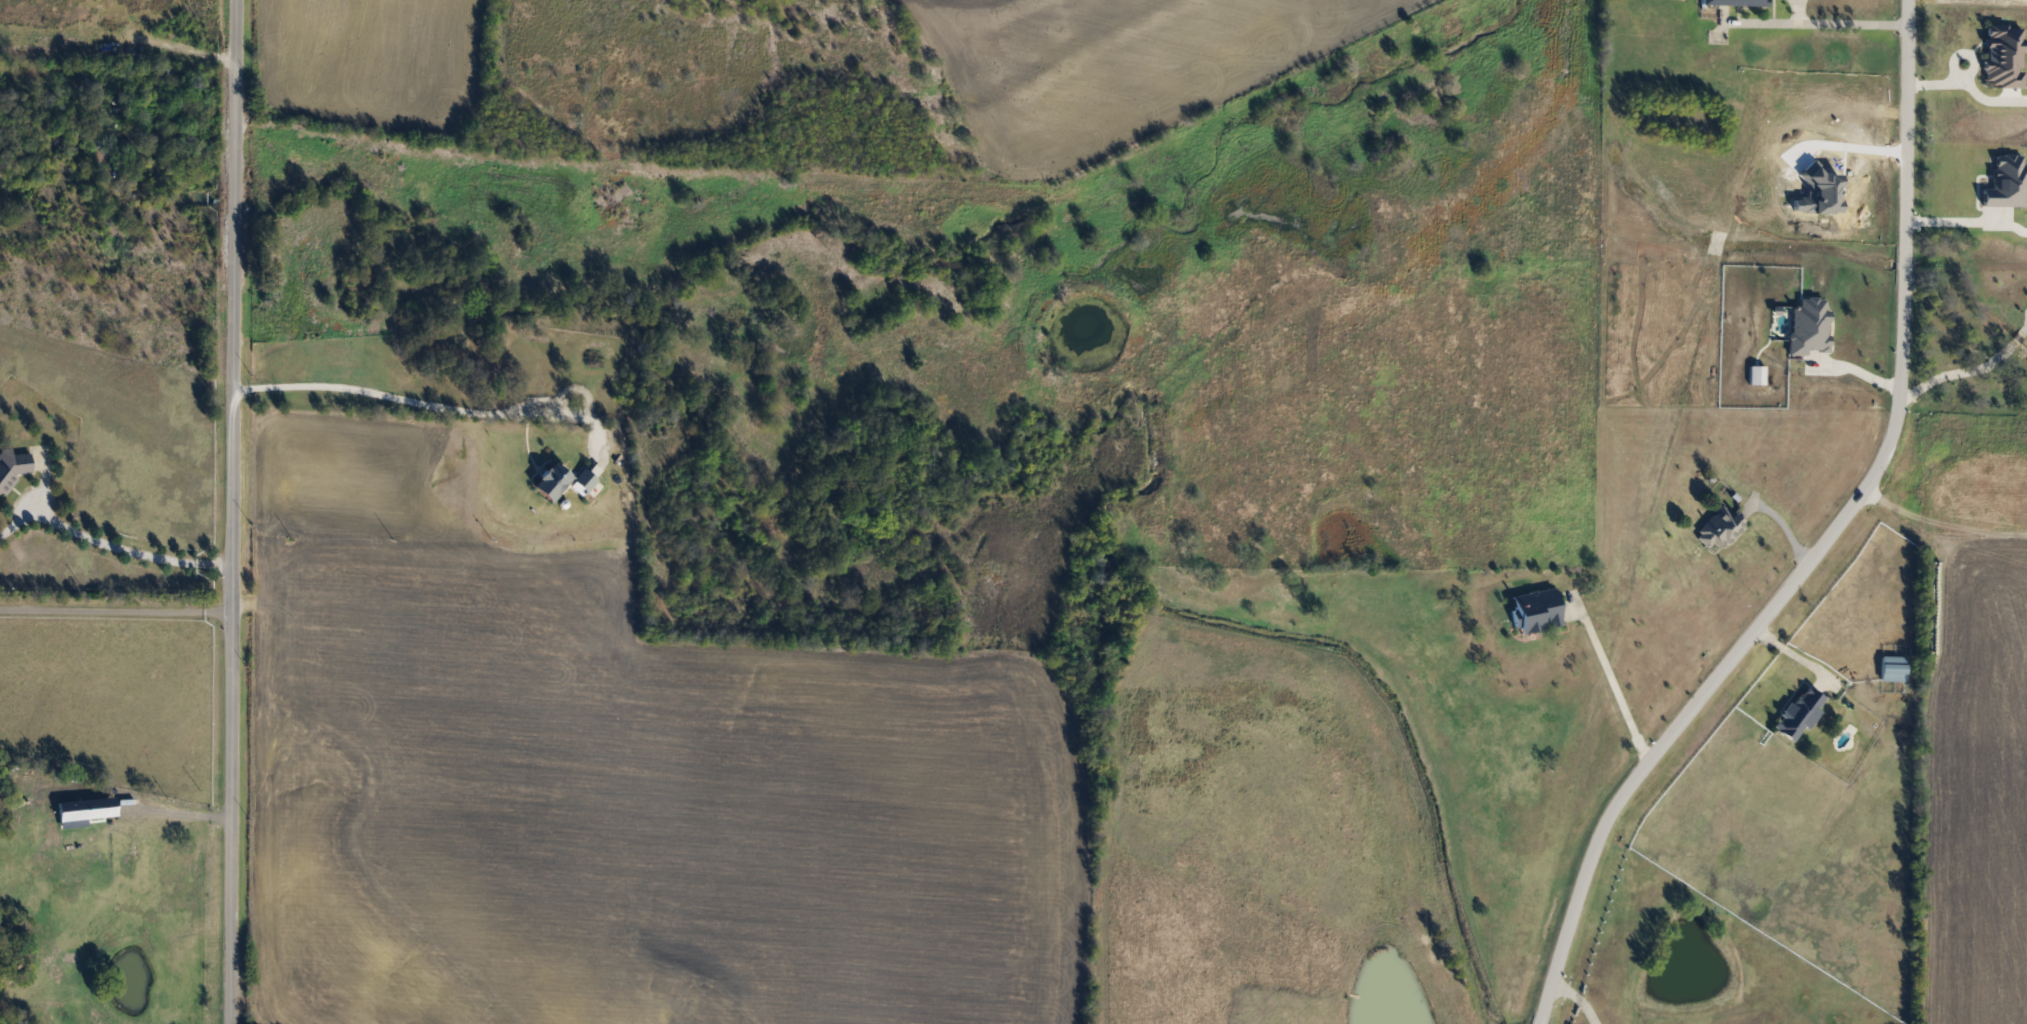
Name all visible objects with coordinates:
building: (1734, 1)
road: (1817, 22)
road: (1952, 219)
road: (1968, 368)
road: (1854, 371)
road: (438, 405)
building: (11, 467)
building: (550, 479)
road: (239, 512)
building: (1717, 526)
road: (1814, 540)
road: (133, 548)
road: (118, 610)
building: (1534, 610)
road: (1784, 651)
building: (1892, 668)
road: (1609, 682)
building: (1798, 713)
road: (1575, 995)

